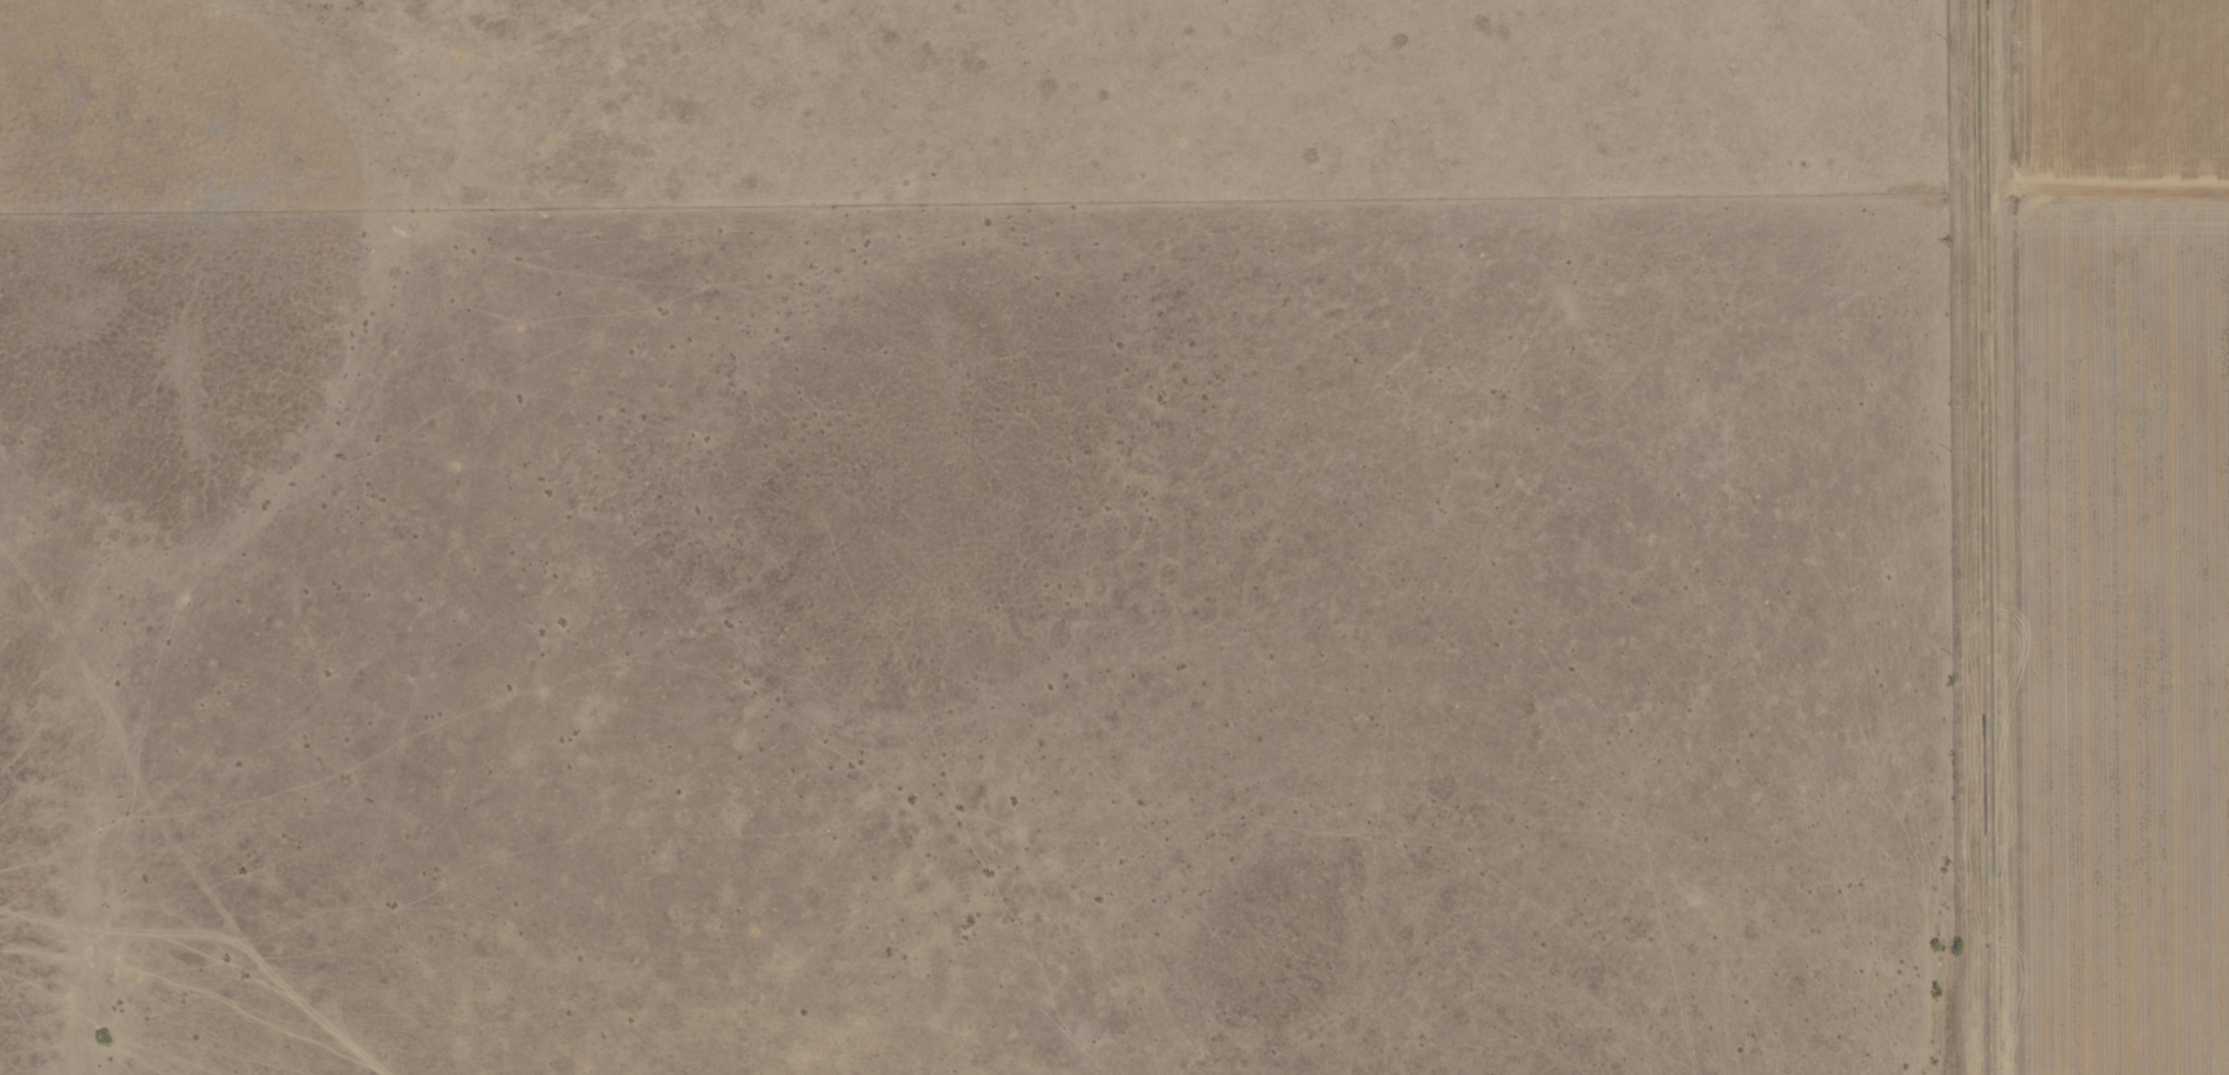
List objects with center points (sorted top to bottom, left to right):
road: (1988, 537)

